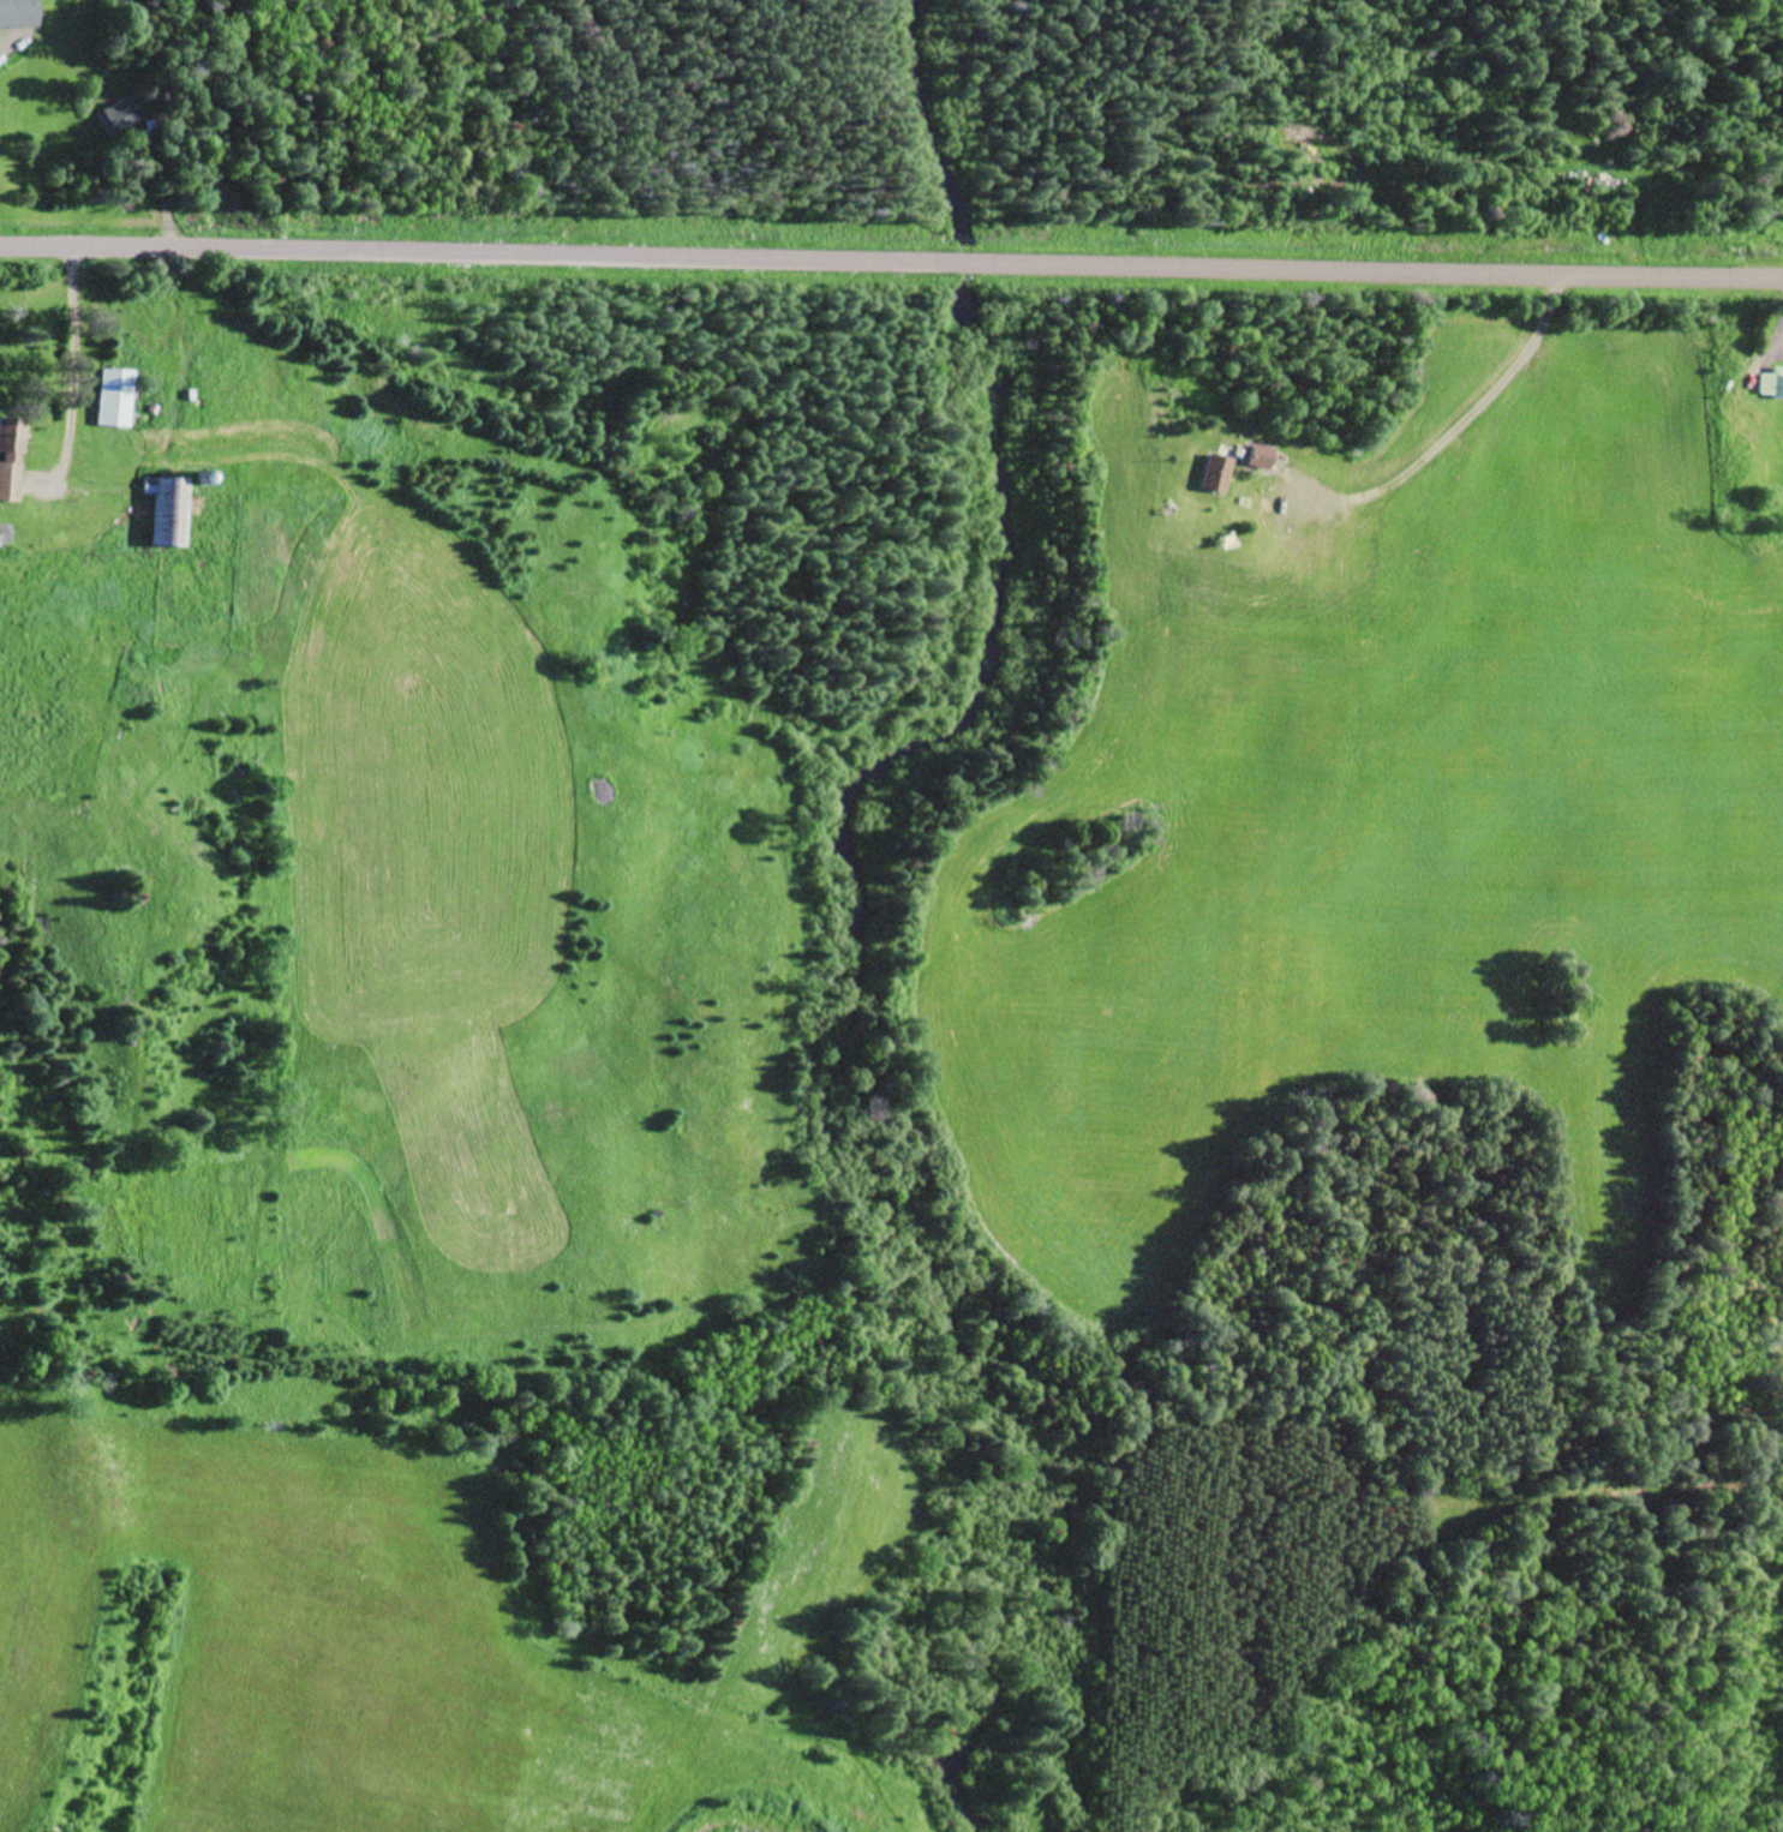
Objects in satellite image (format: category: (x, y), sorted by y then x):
building: (17, 12)
building: (120, 113)
road: (891, 263)
building: (1771, 382)
building: (115, 396)
building: (1258, 454)
building: (11, 459)
building: (1216, 473)
building: (170, 509)
building: (5, 532)

